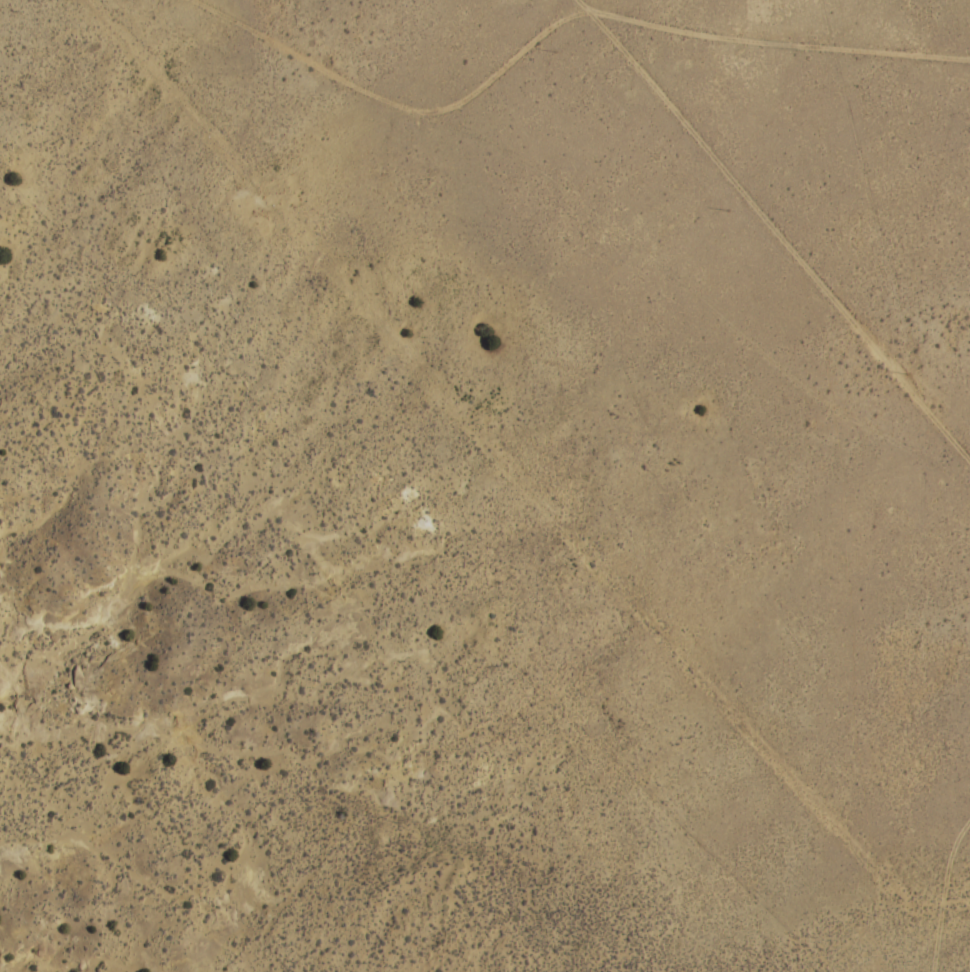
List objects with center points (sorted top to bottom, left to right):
road: (753, 262)

